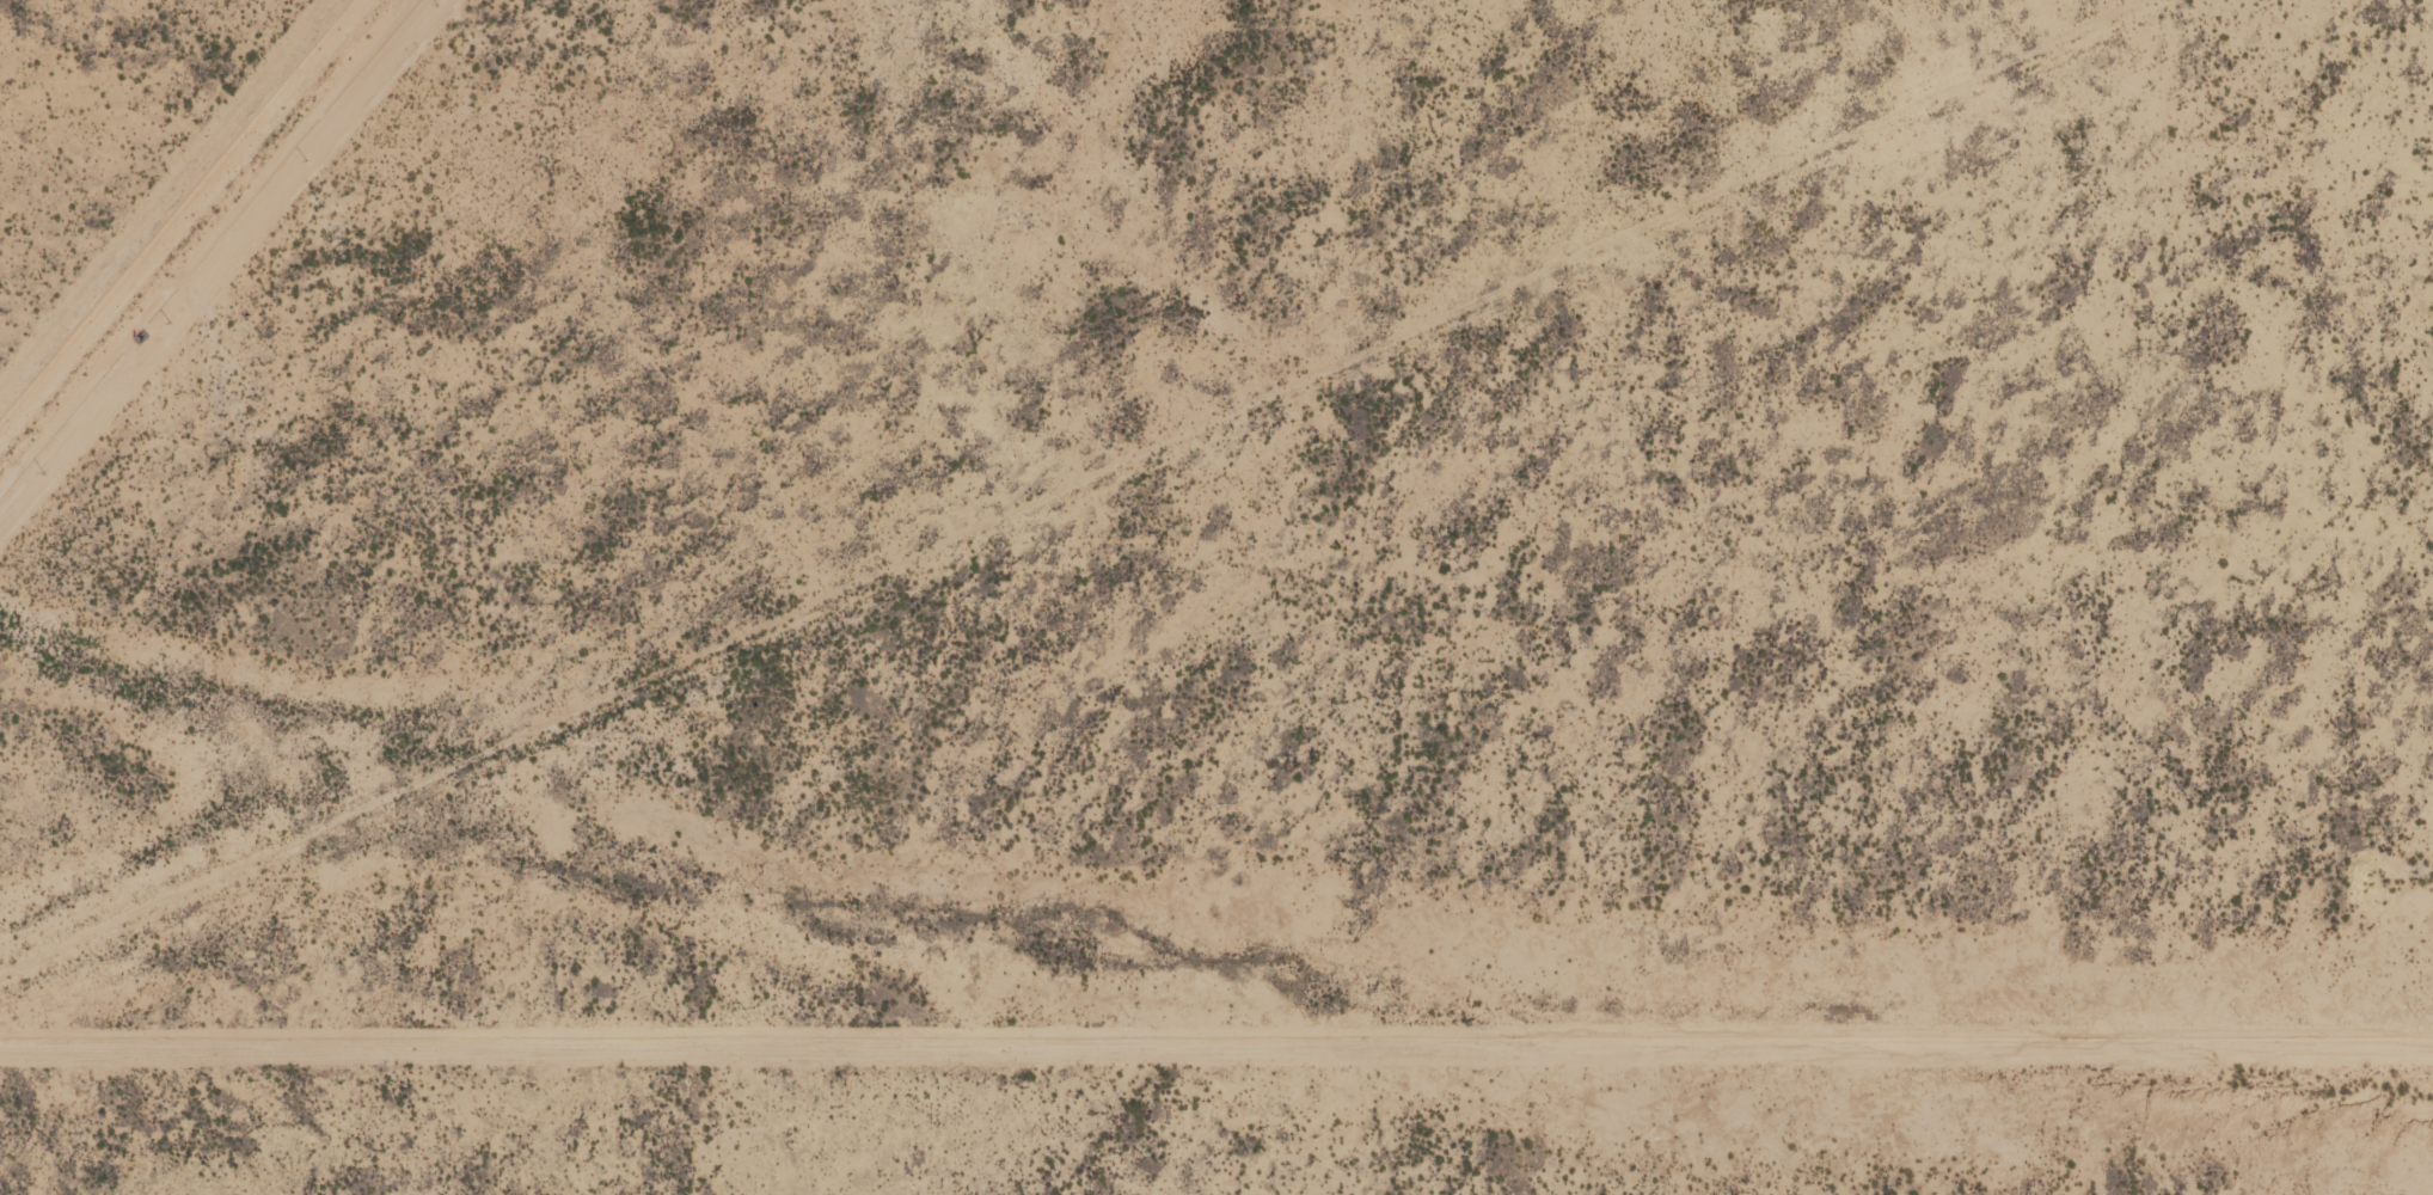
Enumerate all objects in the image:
road: (2423, 756)

